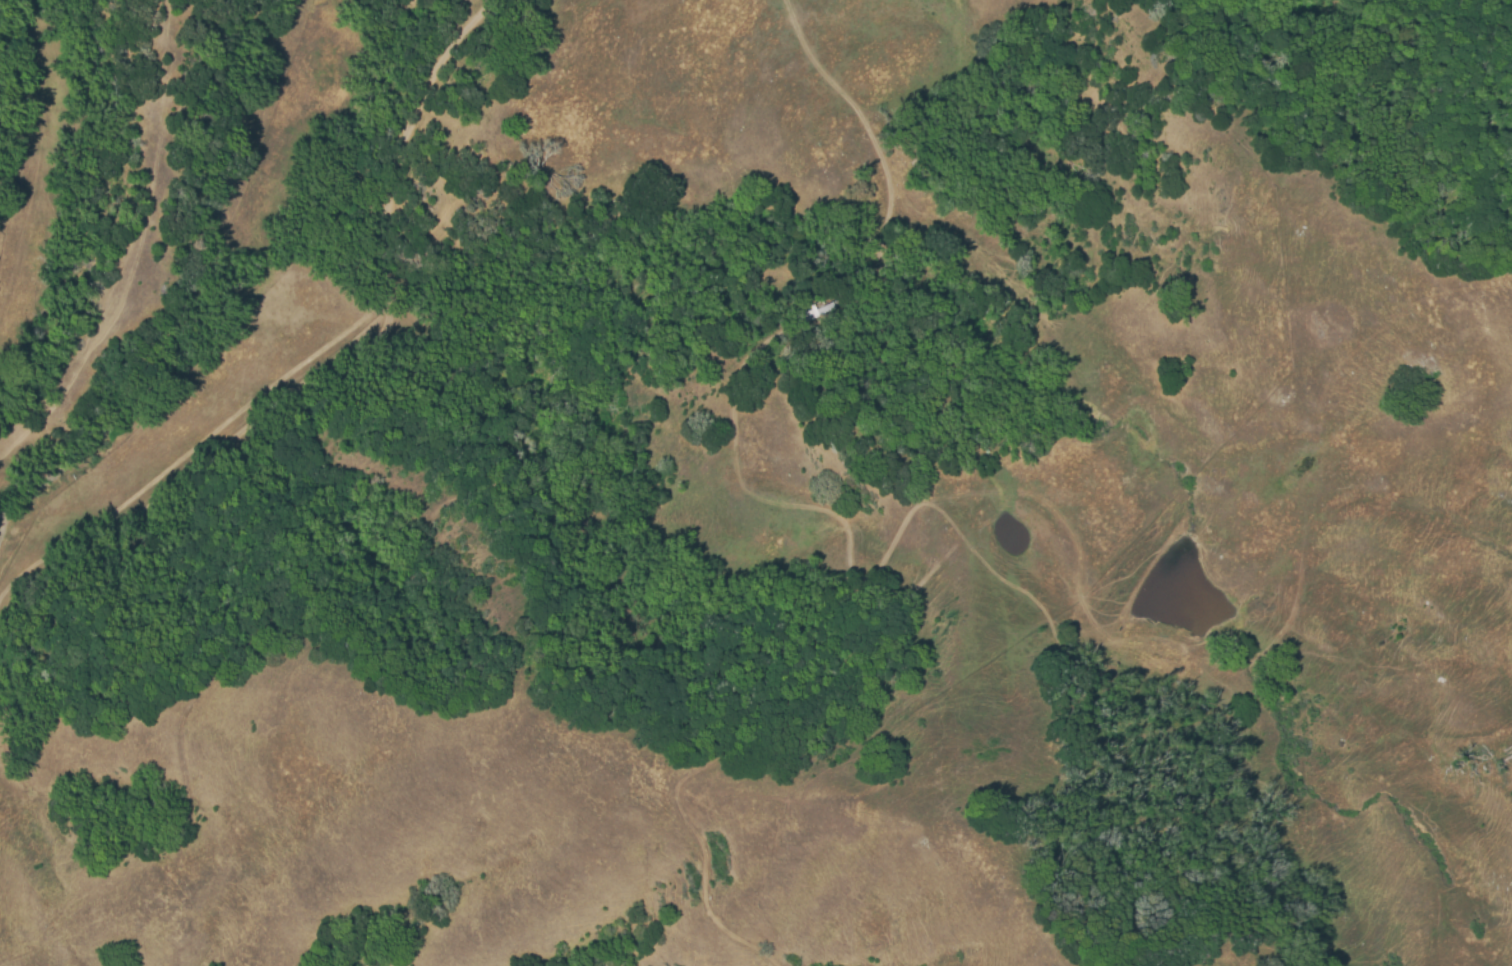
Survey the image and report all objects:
road: (279, 350)

